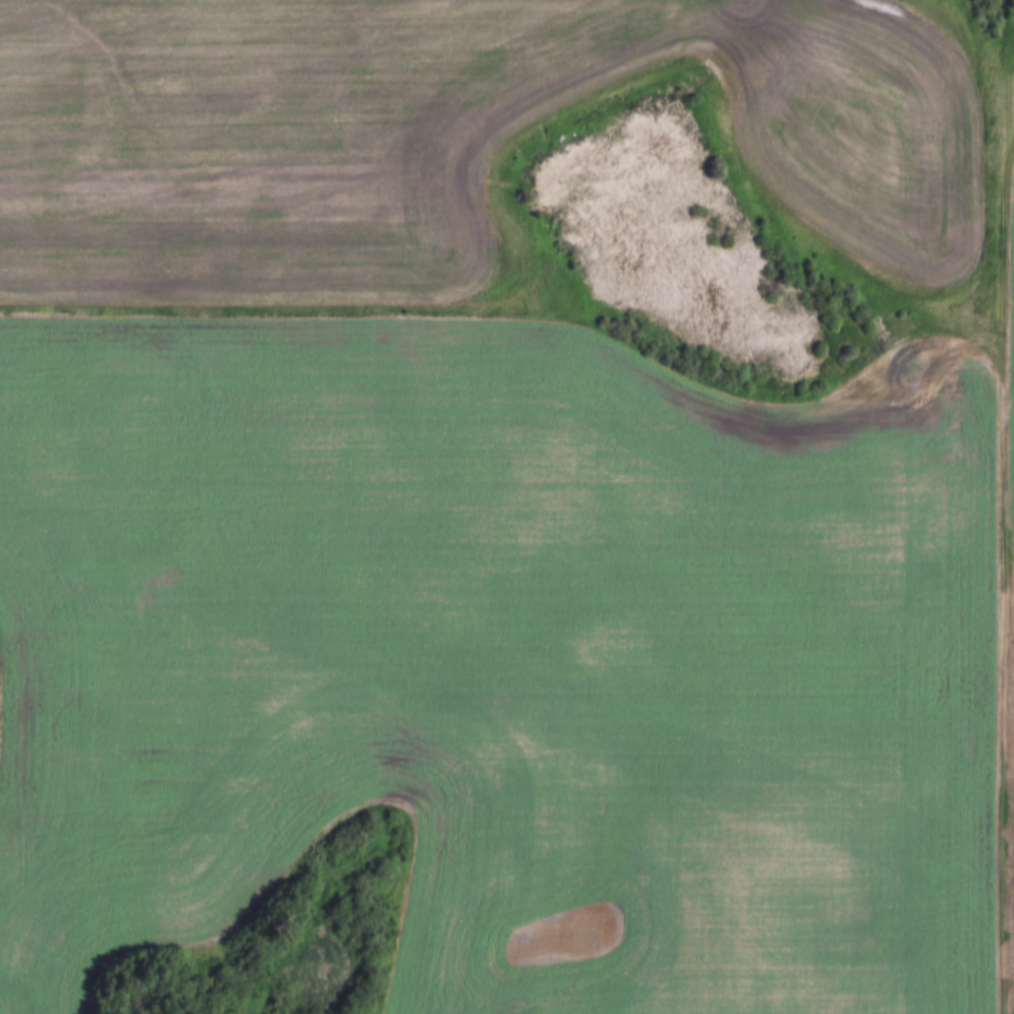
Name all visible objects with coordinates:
road: (1005, 452)
road: (1003, 880)

